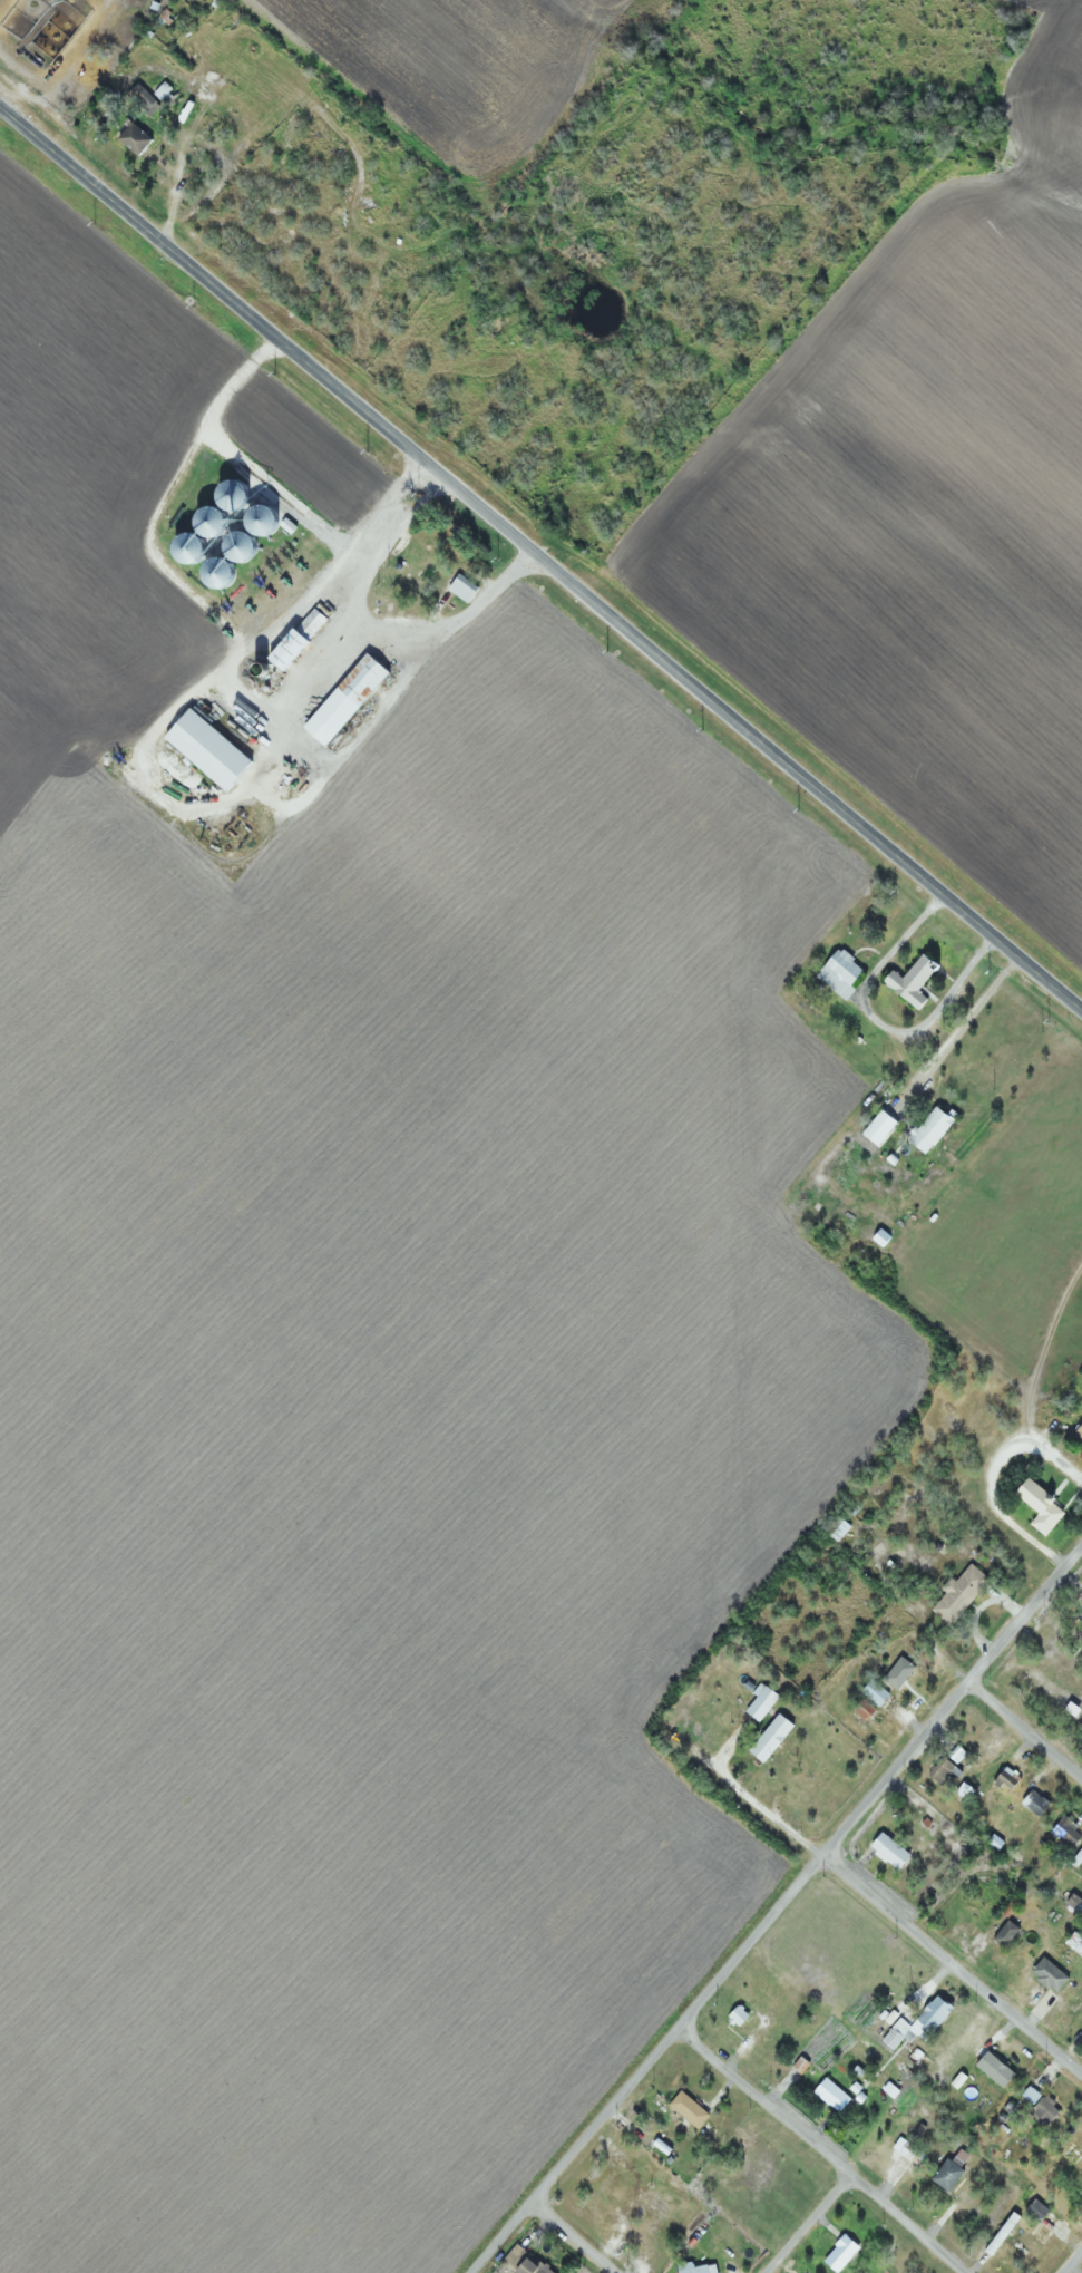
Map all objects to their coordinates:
building: (78, 52)
building: (168, 97)
building: (138, 139)
building: (419, 556)
road: (540, 558)
building: (464, 587)
building: (315, 619)
building: (293, 650)
building: (350, 698)
building: (211, 749)
building: (837, 972)
building: (906, 982)
building: (926, 1130)
building: (1078, 1432)
building: (1035, 1506)
building: (834, 1529)
building: (1081, 1589)
building: (956, 1594)
building: (891, 1673)
building: (871, 1693)
building: (758, 1703)
road: (1025, 1727)
building: (766, 1739)
building: (964, 1791)
road: (753, 1793)
building: (1032, 1804)
building: (1063, 1830)
building: (886, 1851)
building: (1075, 1856)
road: (774, 1907)
building: (1074, 1944)
road: (953, 1962)
building: (1074, 2001)
building: (916, 2023)
building: (828, 2095)
building: (1033, 2107)
building: (684, 2111)
road: (819, 2149)
building: (907, 2153)
building: (1080, 2164)
building: (945, 2173)
building: (651, 2201)
building: (1033, 2208)
road: (808, 2224)
road: (573, 2236)
building: (1021, 2241)
building: (837, 2254)
road: (1071, 2261)
building: (529, 2264)
building: (686, 2269)

